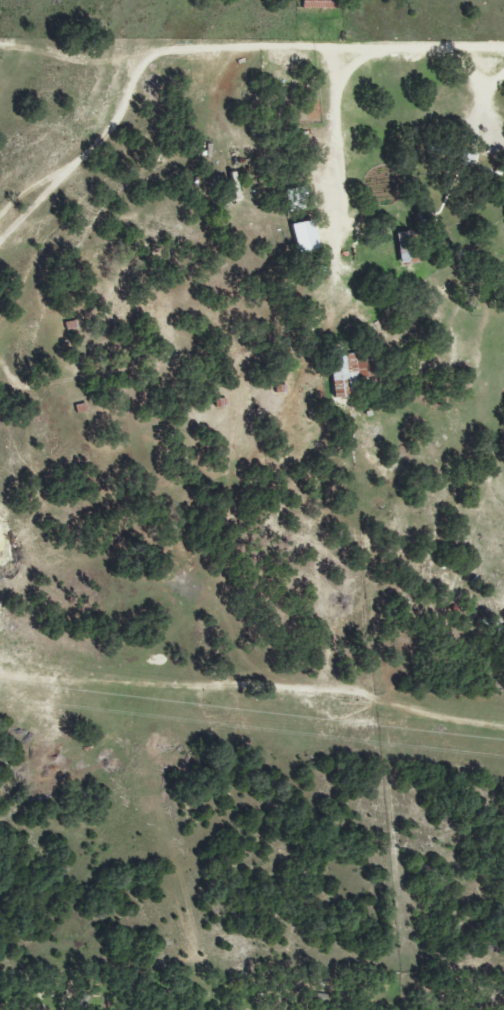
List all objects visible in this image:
road: (335, 23)
road: (251, 49)
road: (475, 77)
road: (489, 117)
road: (337, 140)
building: (303, 237)
building: (346, 374)

